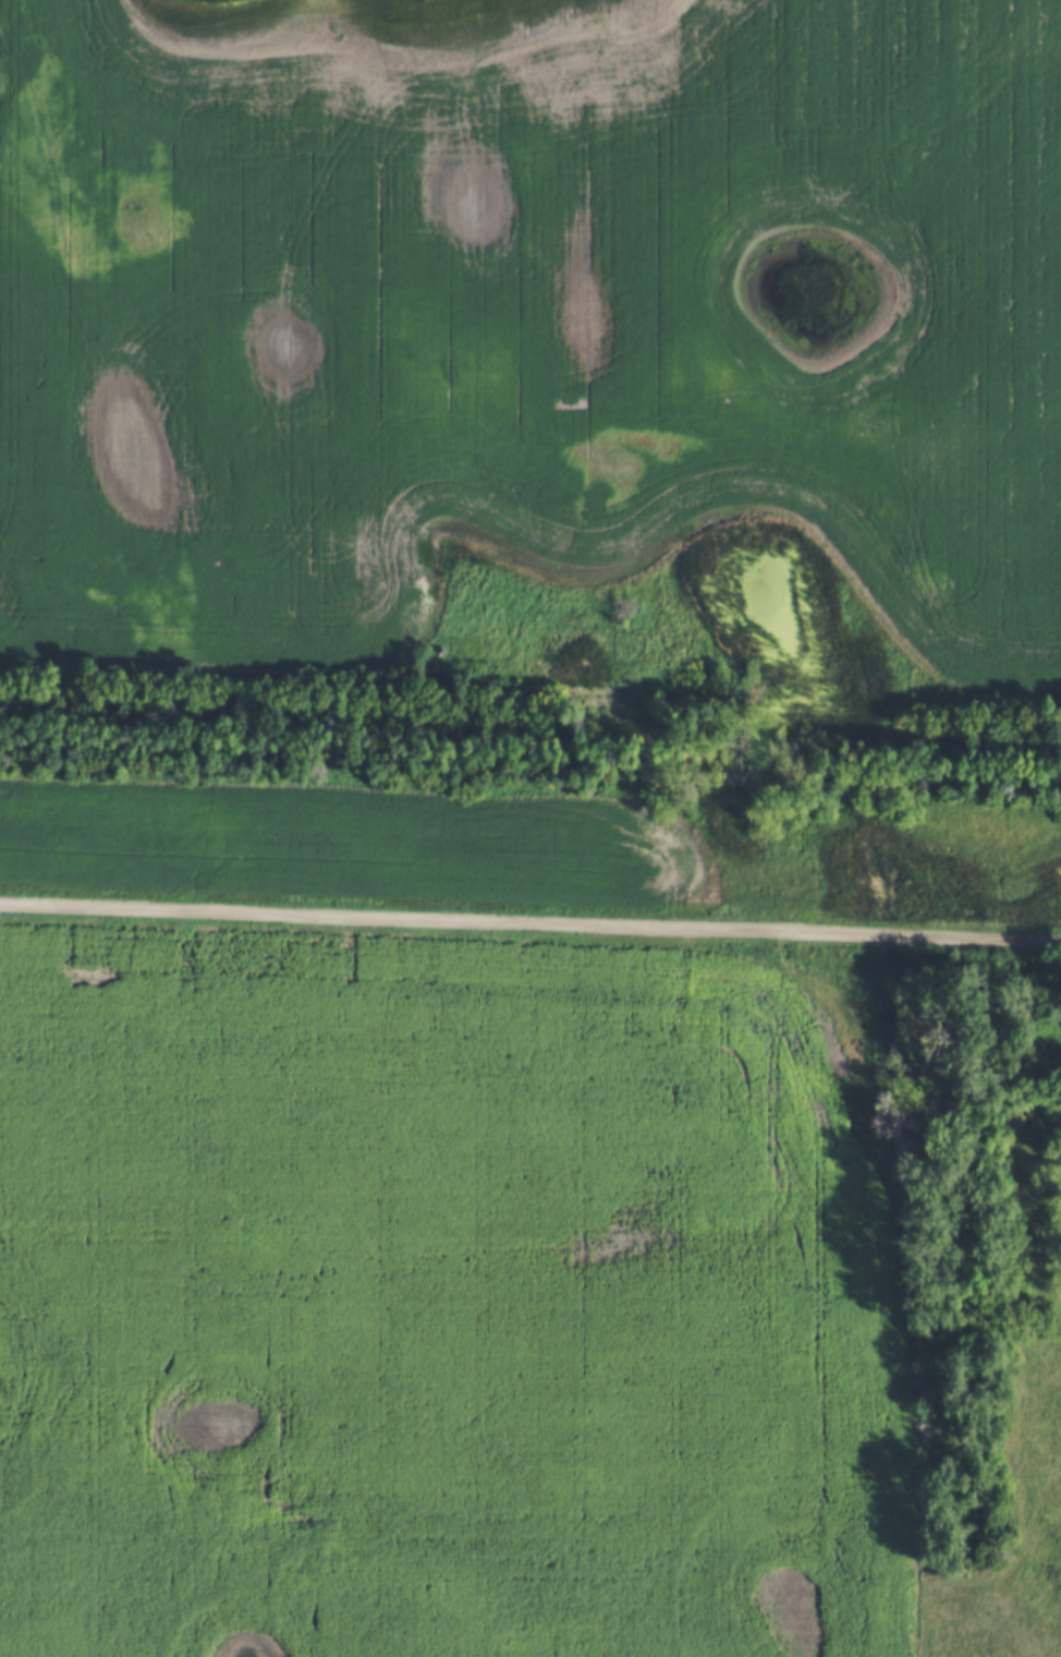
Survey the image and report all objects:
road: (530, 924)

